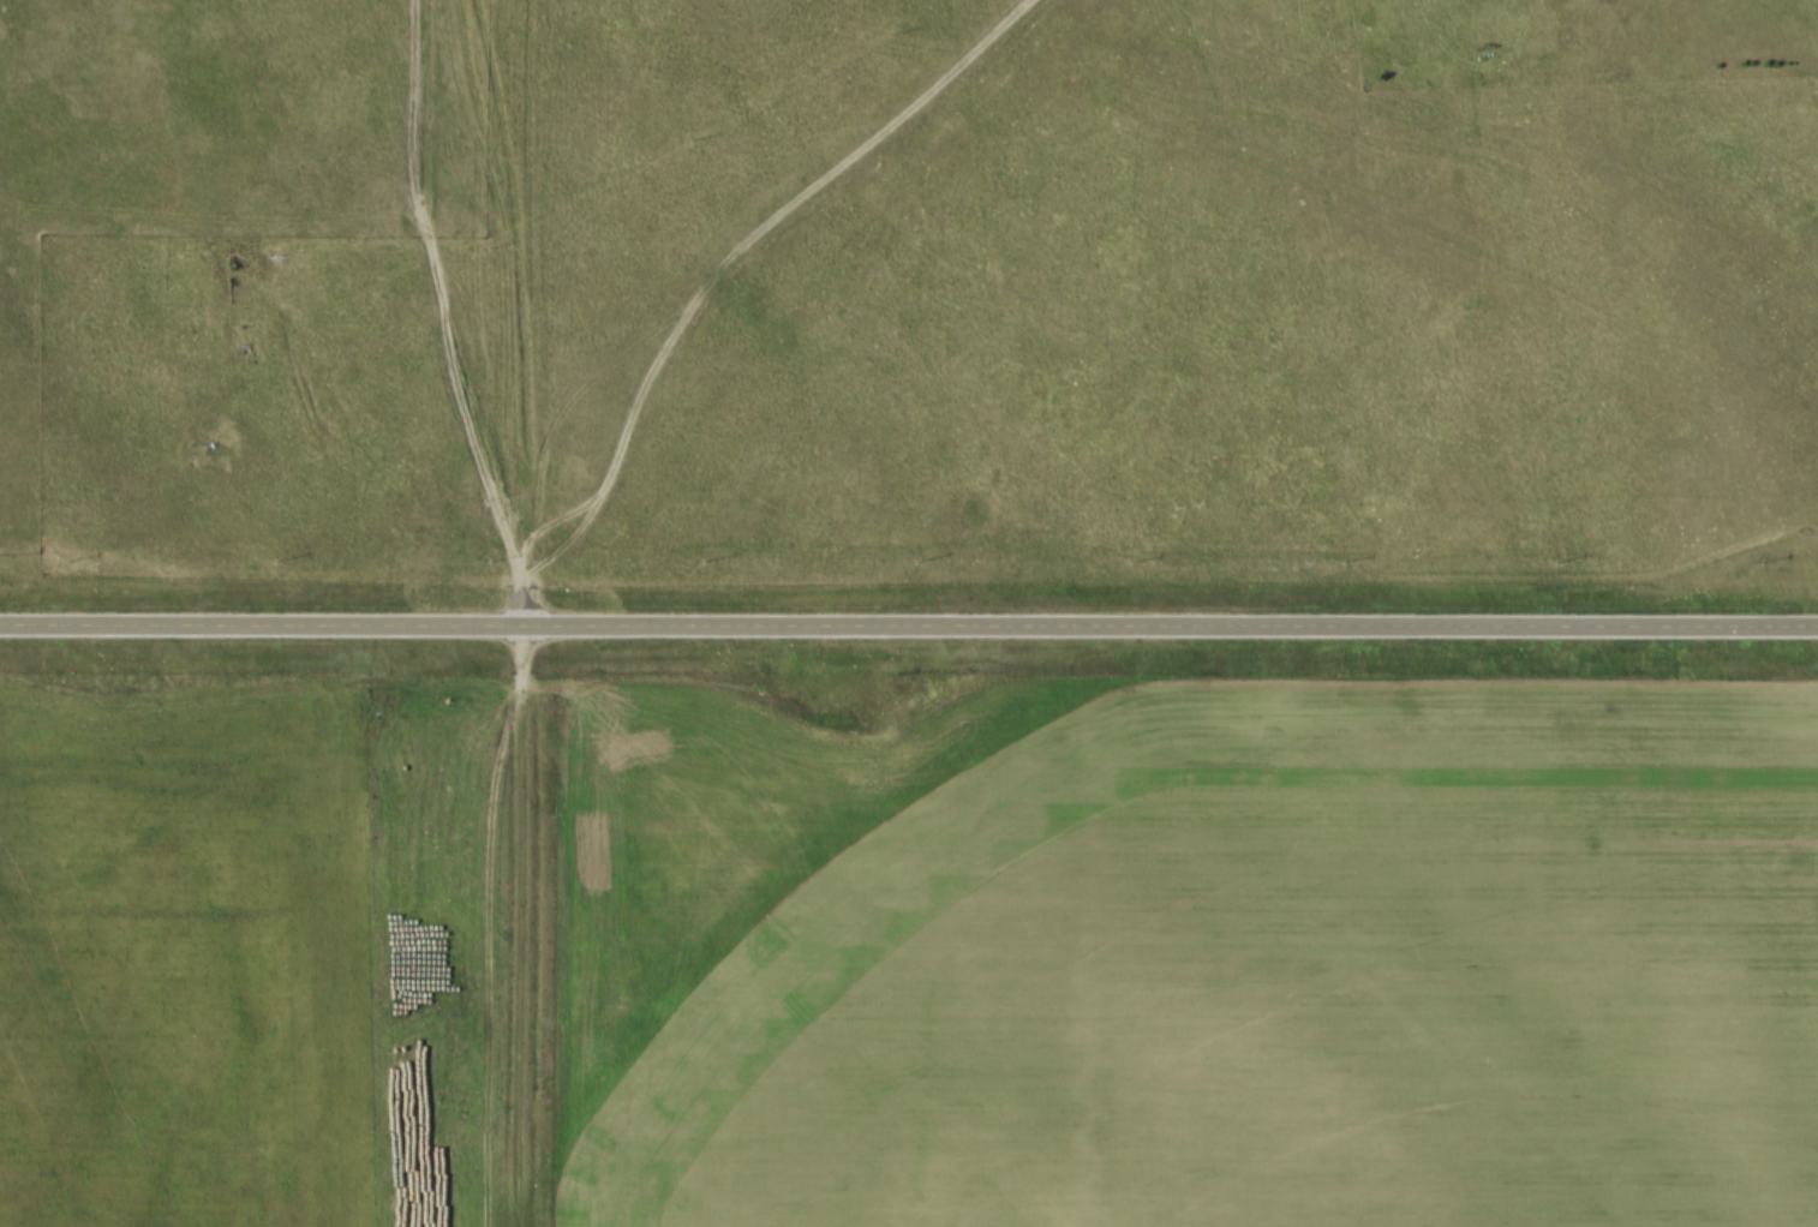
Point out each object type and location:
road: (525, 609)
road: (908, 623)

